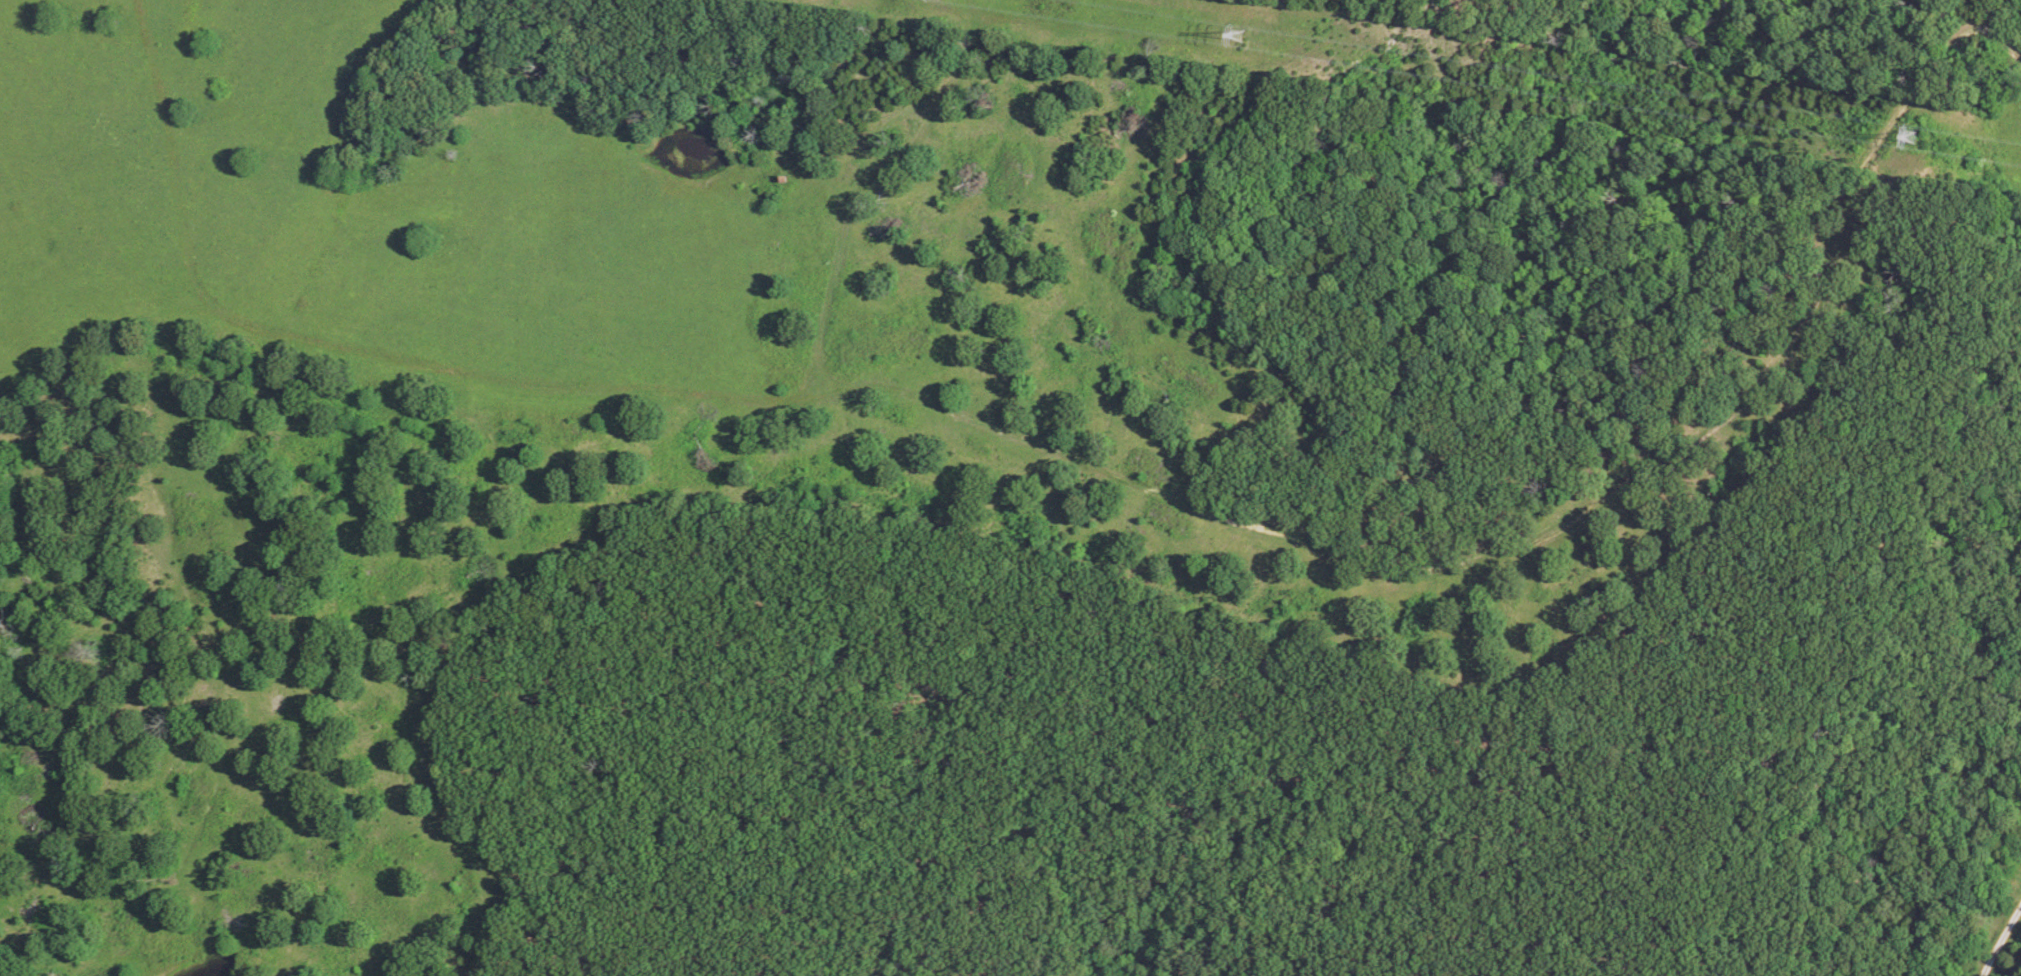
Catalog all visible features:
road: (2003, 943)

